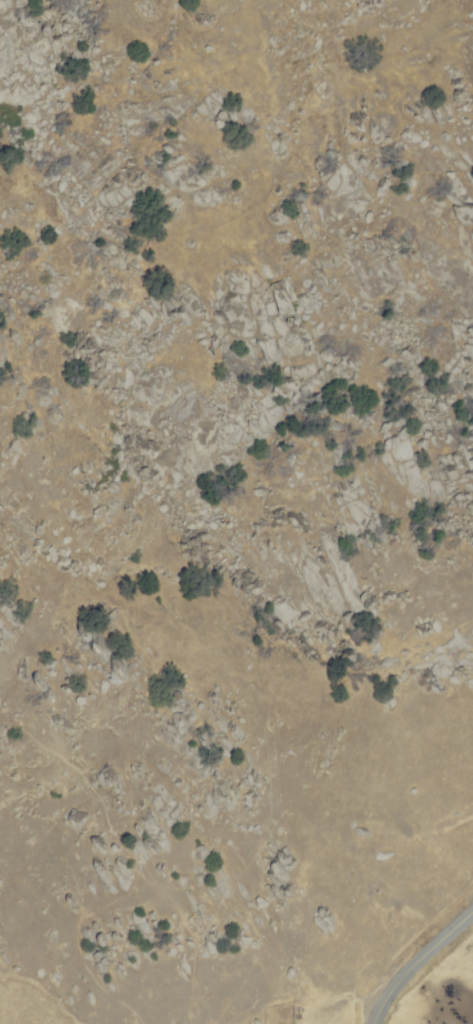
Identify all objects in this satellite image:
crop: (415, 919)
road: (416, 961)

